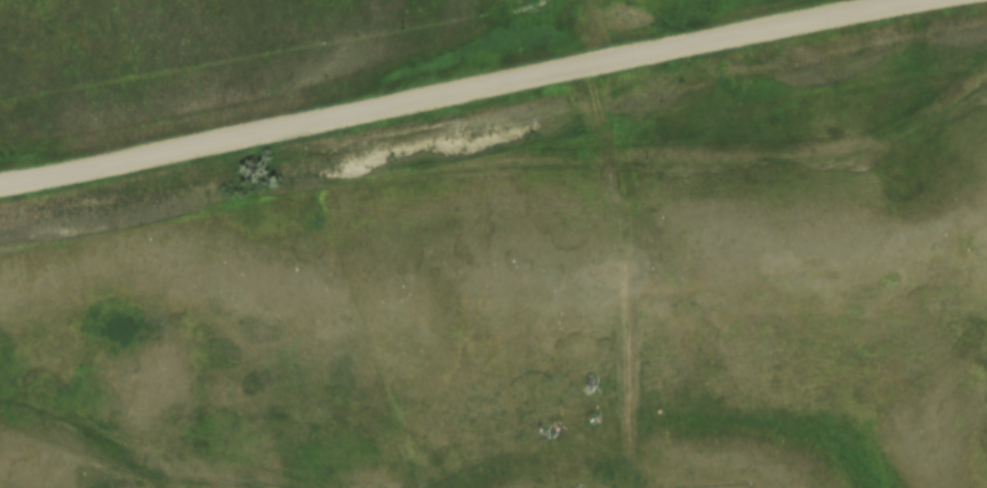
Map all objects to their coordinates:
road: (469, 89)

